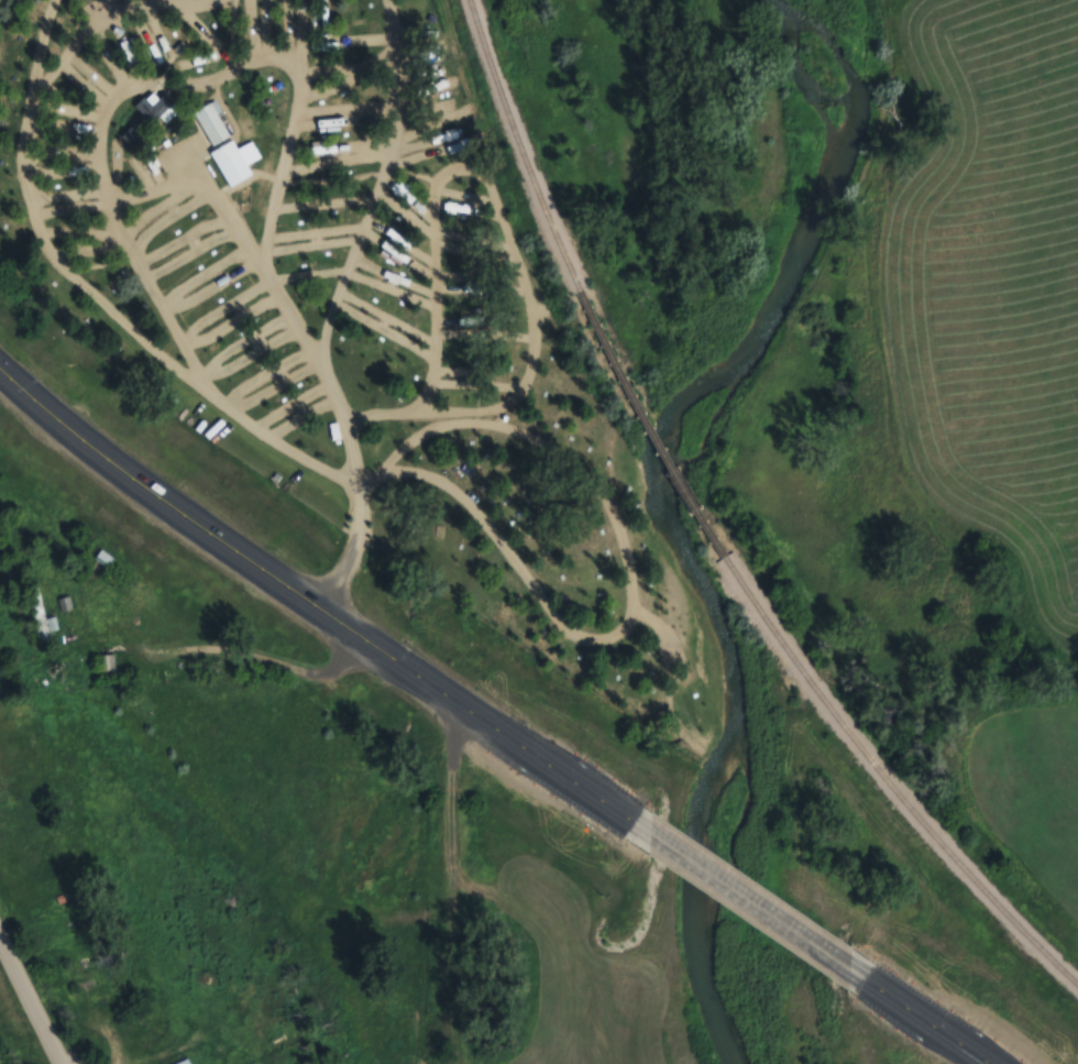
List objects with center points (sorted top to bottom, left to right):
road: (102, 22)
building: (146, 117)
building: (211, 124)
railway: (519, 146)
building: (74, 153)
building: (235, 162)
road: (382, 182)
road: (141, 194)
road: (507, 229)
road: (97, 297)
road: (155, 297)
railway: (648, 425)
river: (658, 497)
road: (630, 579)
road: (310, 594)
building: (106, 665)
railway: (888, 781)
road: (748, 900)
road: (33, 997)
road: (930, 1020)
building: (185, 1062)

